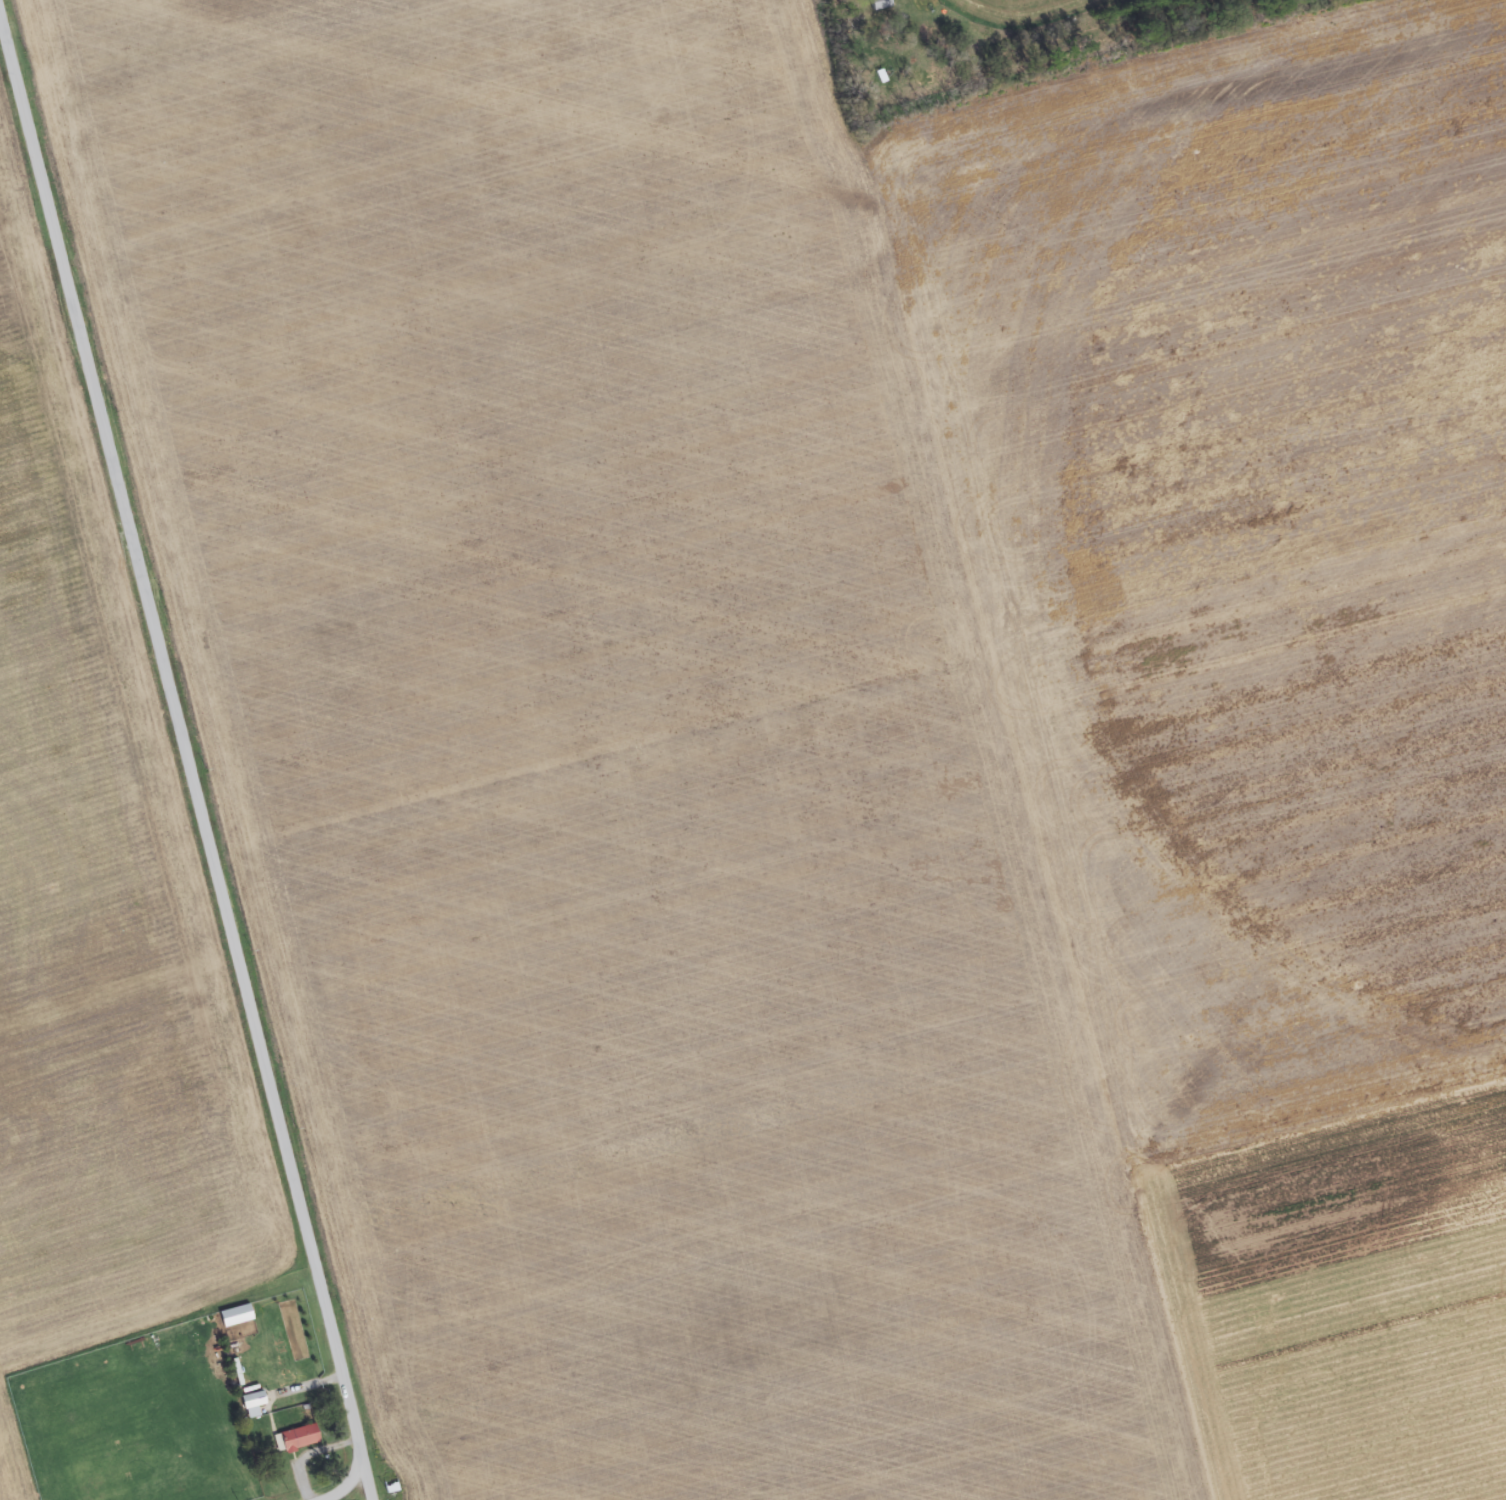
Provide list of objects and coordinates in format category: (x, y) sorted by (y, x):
road: (182, 762)
building: (238, 1315)
building: (255, 1400)
building: (300, 1438)

